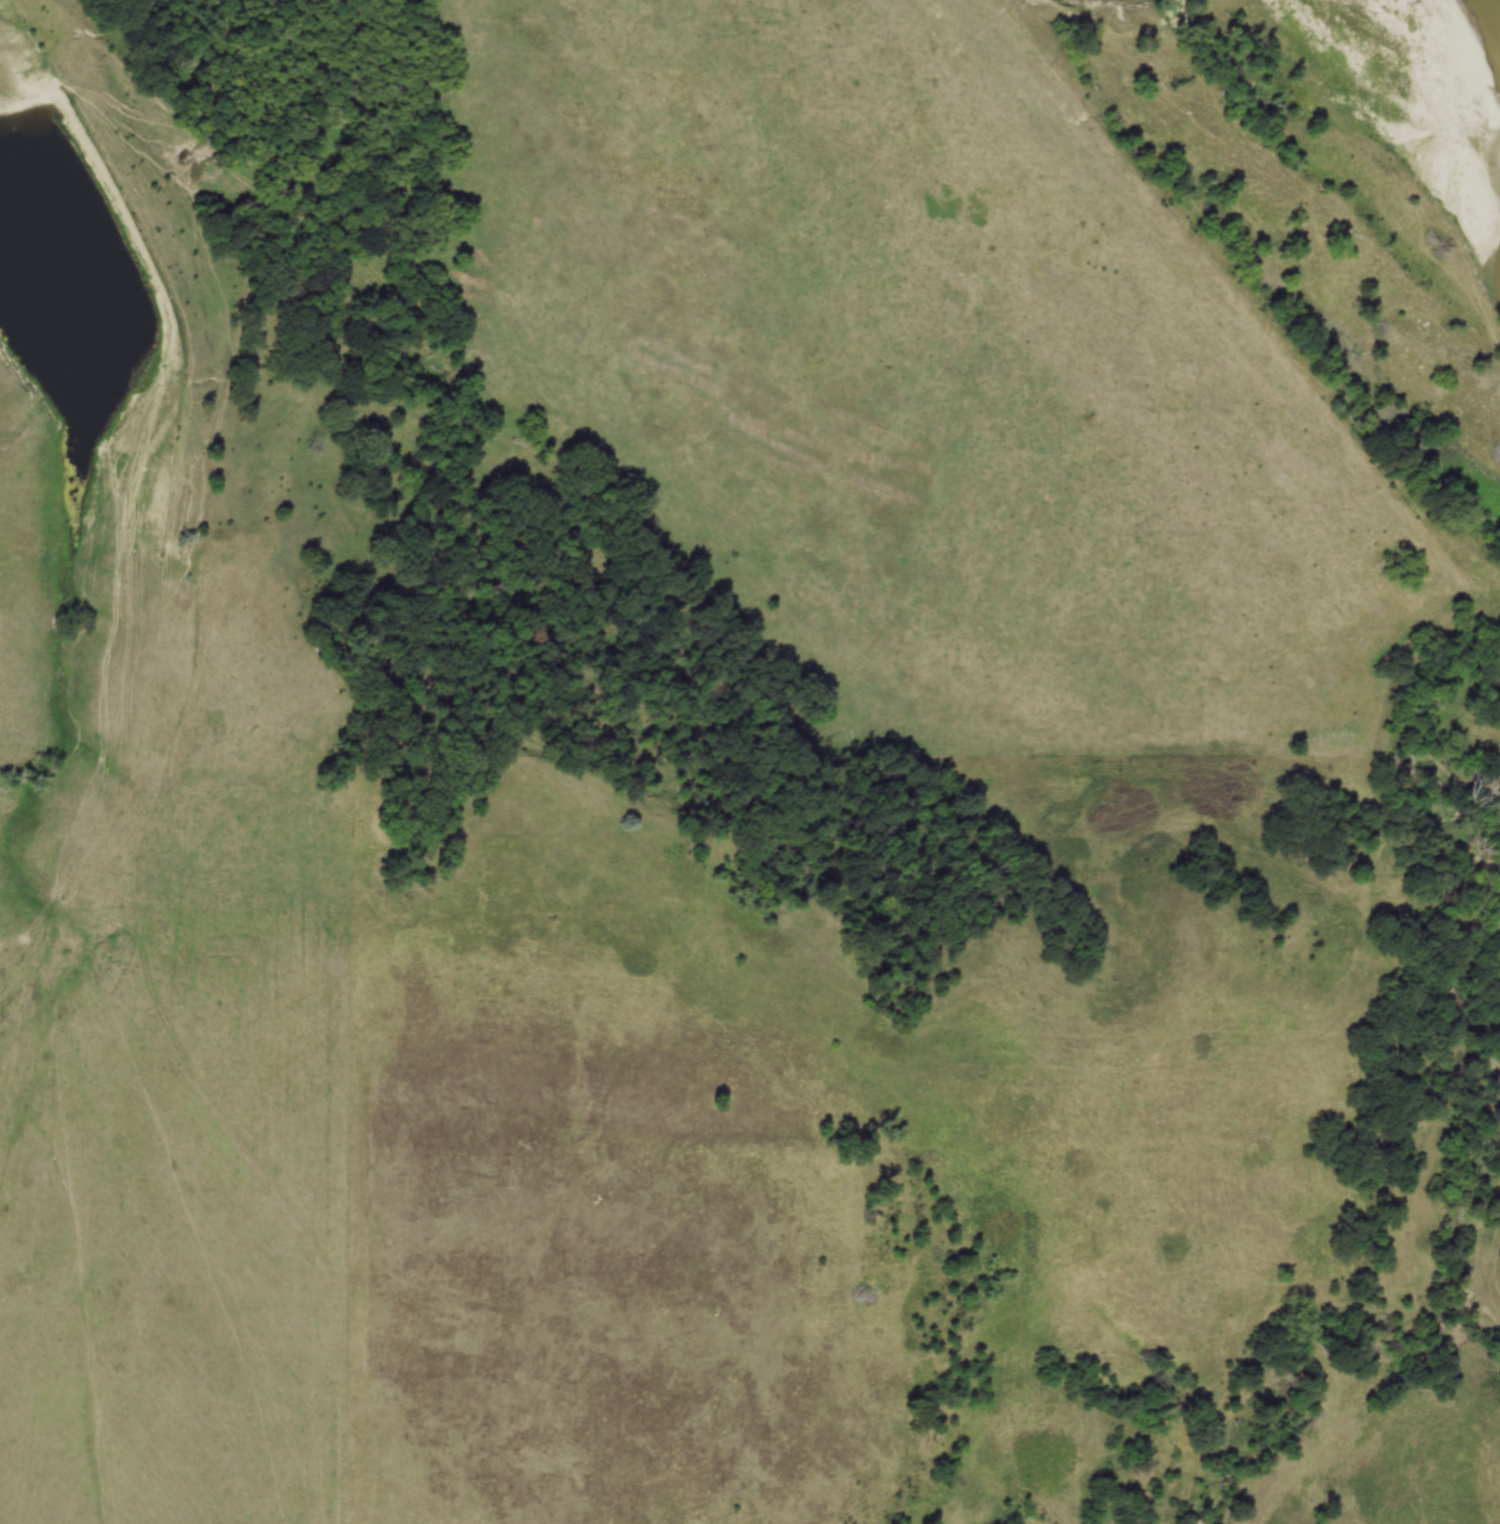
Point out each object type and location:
river: (1453, 121)

